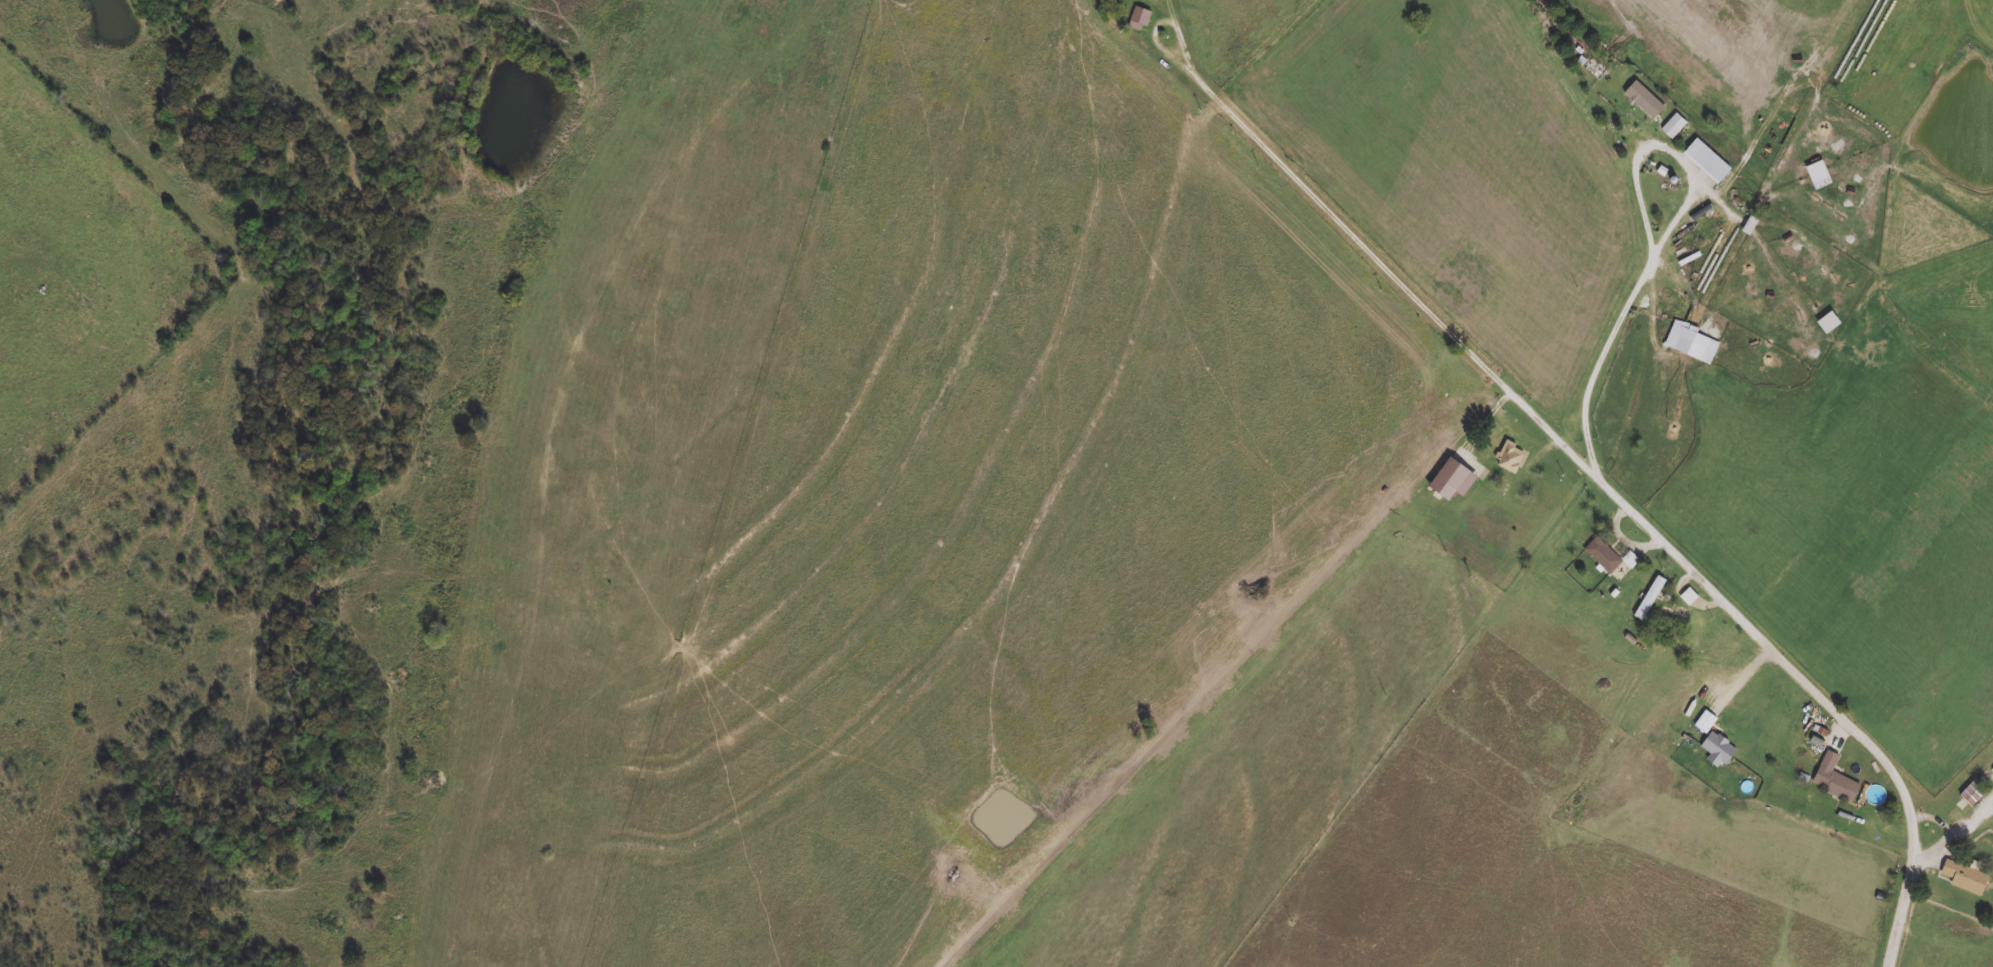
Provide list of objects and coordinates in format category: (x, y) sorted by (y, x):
road: (1175, 14)
building: (1139, 17)
building: (1644, 99)
building: (1673, 125)
building: (1707, 160)
building: (1817, 172)
road: (1662, 244)
building: (1829, 322)
building: (1691, 342)
building: (1510, 456)
building: (1461, 461)
road: (1596, 477)
building: (1603, 555)
building: (1650, 597)
building: (1672, 618)
building: (1717, 749)
building: (1834, 779)
building: (1972, 792)
building: (1964, 877)

